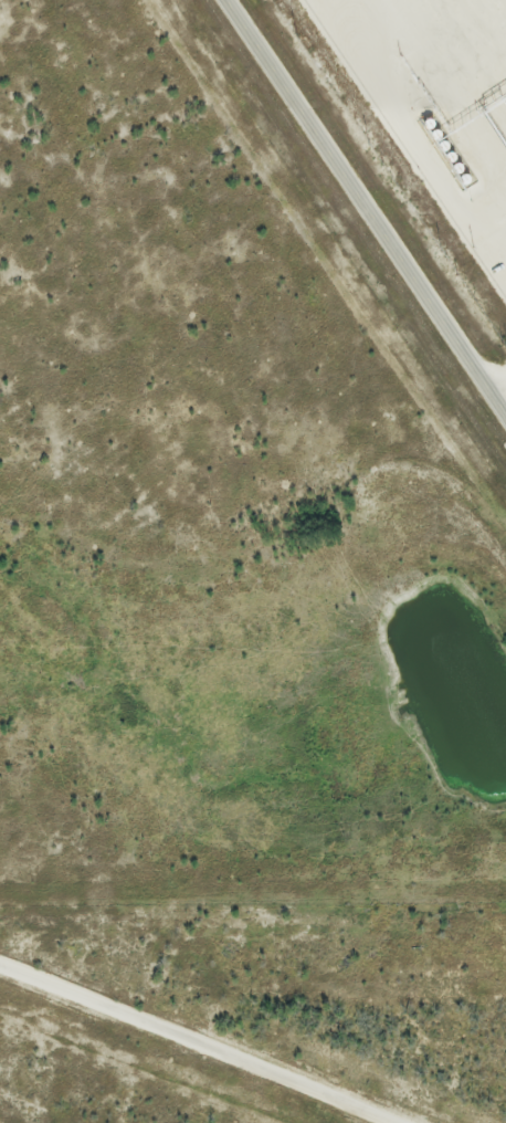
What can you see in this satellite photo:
road: (366, 206)
road: (503, 400)
road: (198, 1038)

